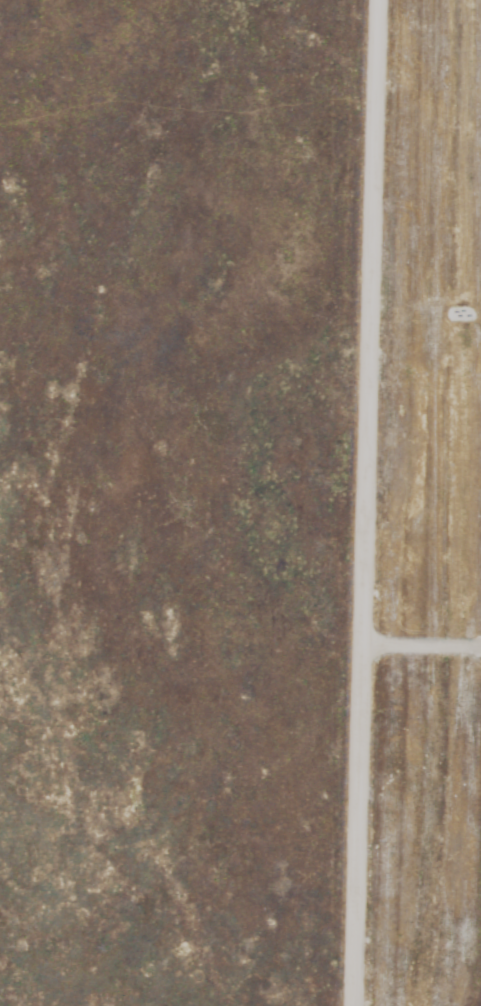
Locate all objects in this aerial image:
solar farm: (458, 497)
road: (368, 503)

